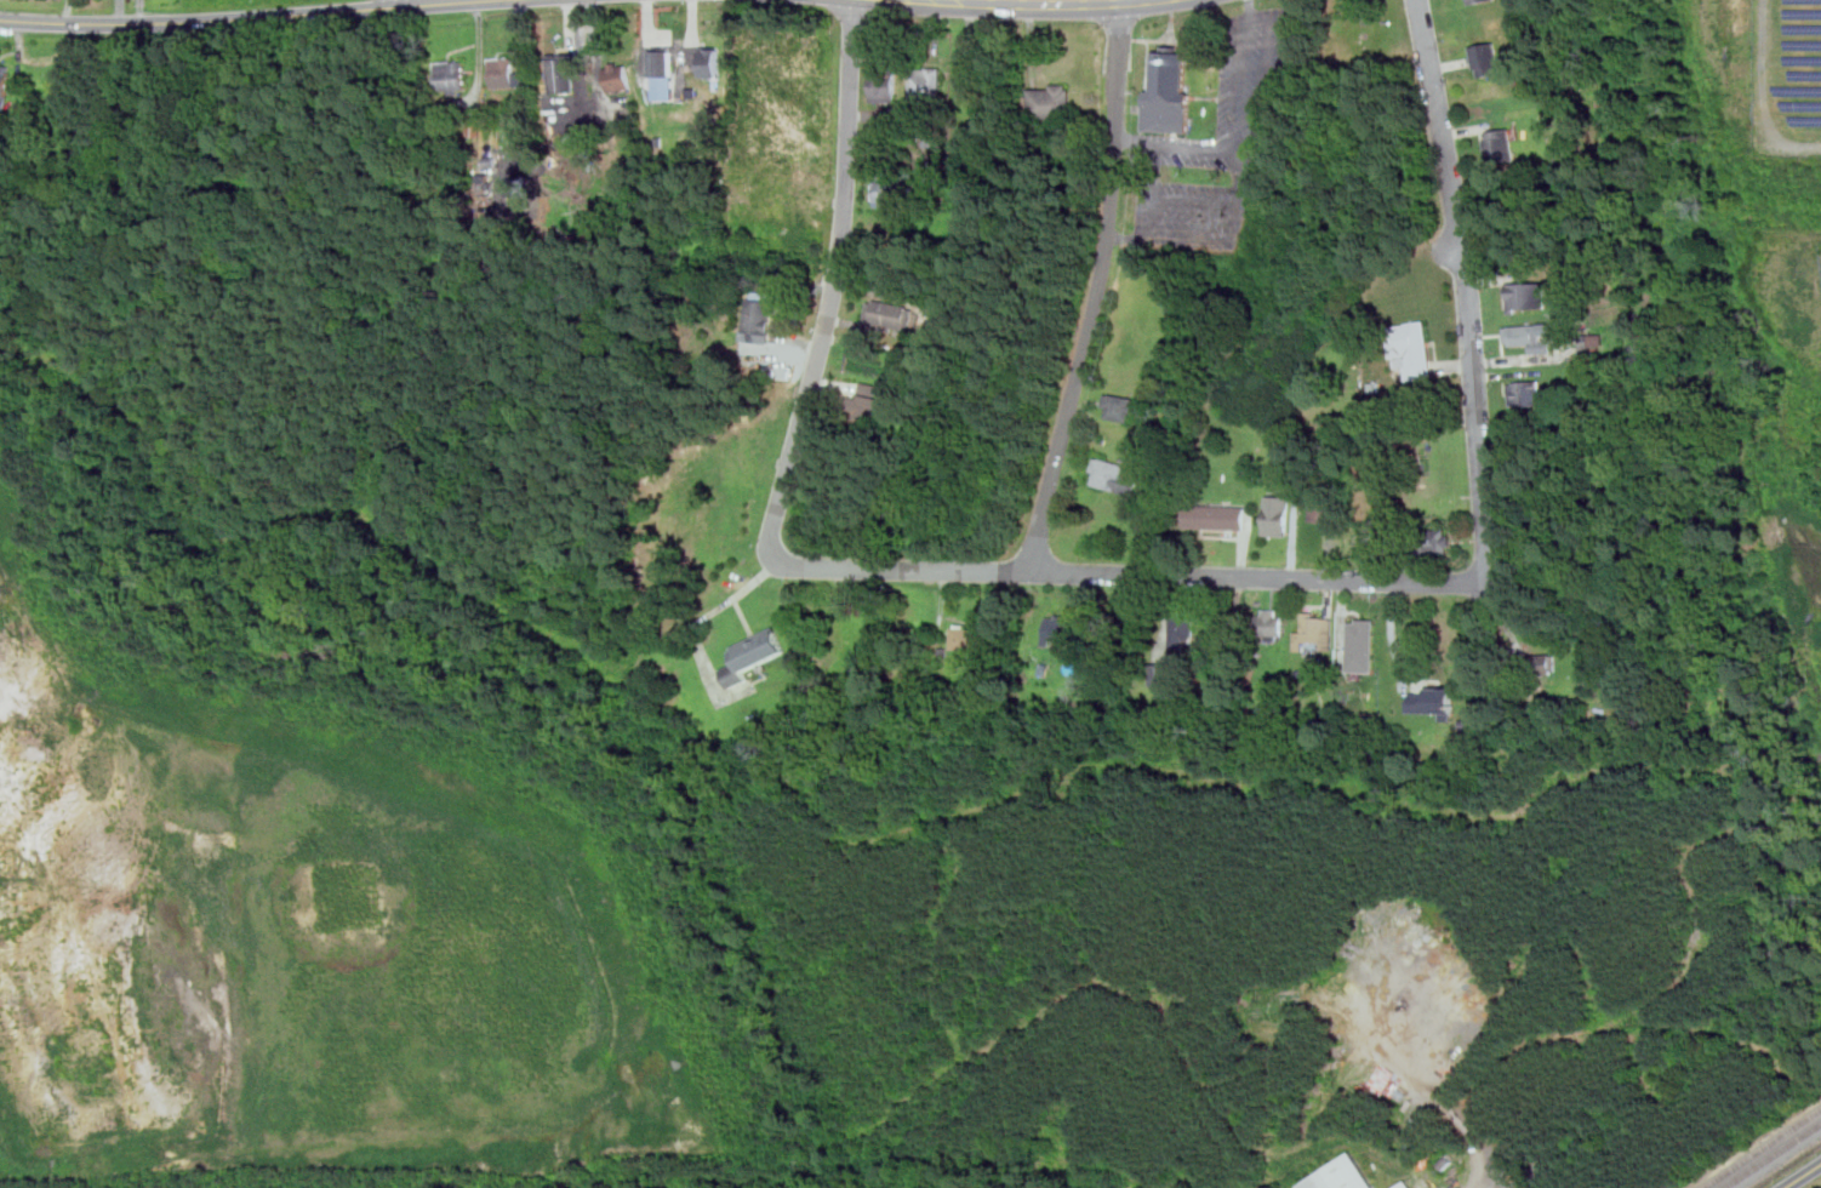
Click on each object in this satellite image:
road: (1123, 0)
road: (983, 1)
building: (1474, 1)
road: (406, 2)
road: (1069, 2)
road: (251, 18)
building: (1486, 58)
building: (709, 61)
building: (662, 62)
building: (504, 70)
building: (564, 72)
building: (452, 76)
building: (618, 76)
solar farm: (1788, 76)
building: (926, 82)
building: (884, 86)
building: (4, 87)
road: (1260, 87)
building: (1170, 90)
building: (1051, 101)
road: (1237, 136)
building: (1500, 145)
building: (484, 183)
building: (889, 190)
road: (1193, 200)
road: (1128, 235)
road: (1189, 236)
road: (1450, 252)
road: (1469, 287)
road: (833, 289)
road: (1097, 292)
building: (1528, 295)
building: (890, 315)
building: (760, 320)
building: (1531, 337)
building: (1416, 350)
building: (1526, 393)
building: (1121, 407)
building: (869, 410)
building: (1112, 475)
building: (1324, 510)
building: (1278, 514)
building: (1216, 516)
building: (1439, 542)
road: (1140, 579)
building: (1269, 626)
road: (1492, 627)
building: (1062, 630)
building: (1182, 630)
building: (1314, 633)
building: (967, 635)
building: (1363, 645)
building: (753, 655)
building: (1160, 674)
building: (1433, 701)
railway: (1763, 1148)
railway: (1773, 1156)
building: (1341, 1176)
road: (1806, 1177)
building: (1405, 1186)

